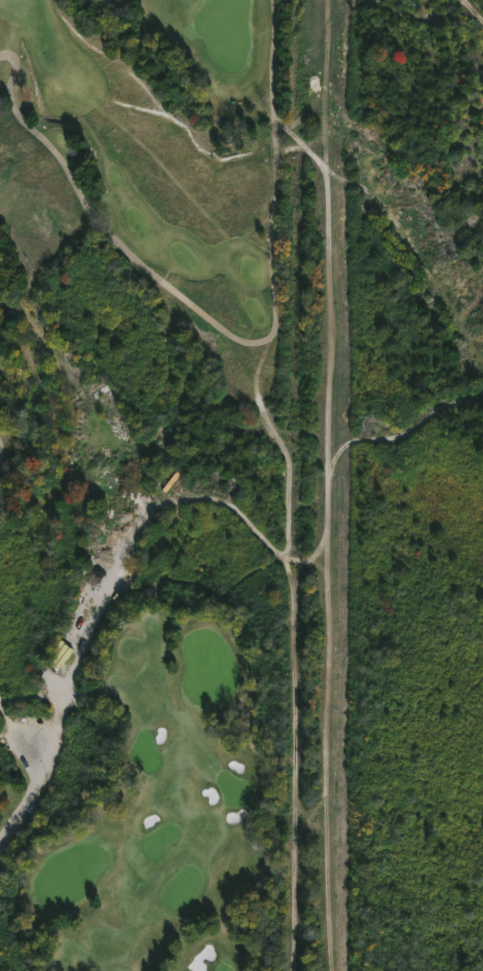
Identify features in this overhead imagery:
park: (225, 32)
road: (230, 334)
road: (0, 450)
park: (144, 485)
road: (87, 584)
park: (207, 668)
park: (145, 753)
park: (234, 790)
park: (159, 842)
park: (70, 873)
park: (181, 889)
park: (223, 968)

